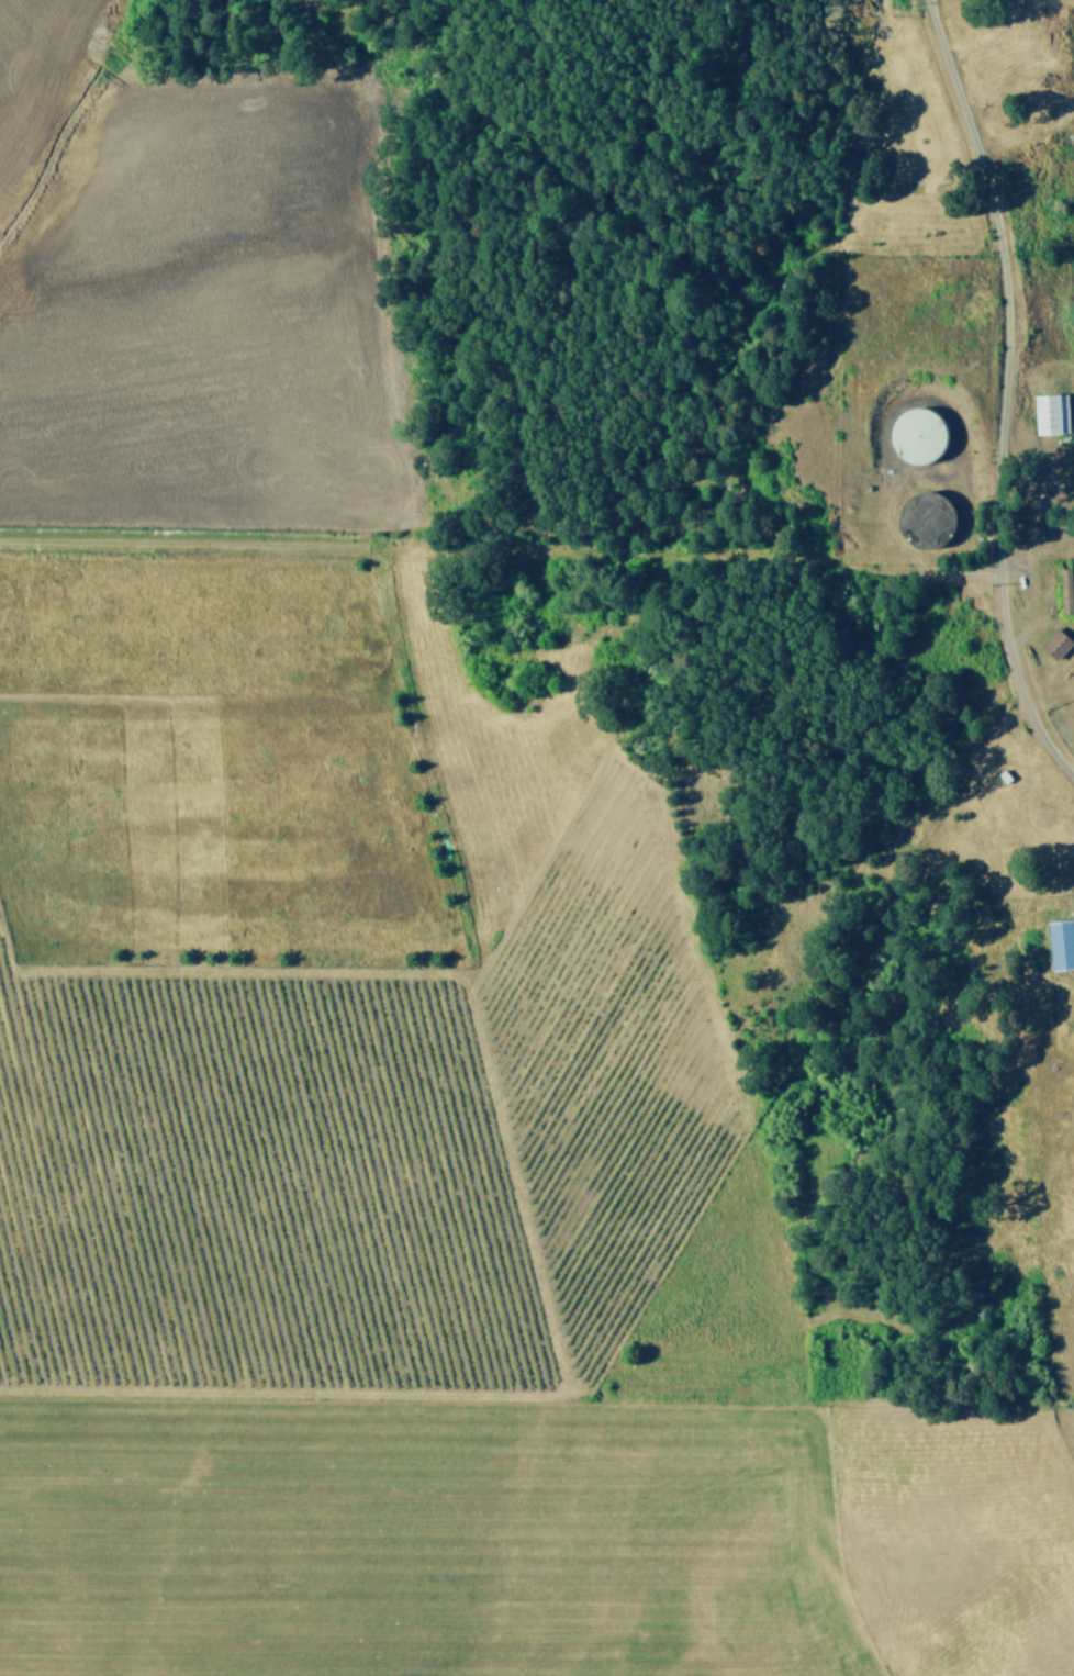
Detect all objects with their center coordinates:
road: (1002, 278)
building: (1050, 413)
building: (915, 433)
building: (1064, 591)
building: (1054, 644)
road: (1018, 680)
building: (1059, 945)
crop: (443, 1025)

